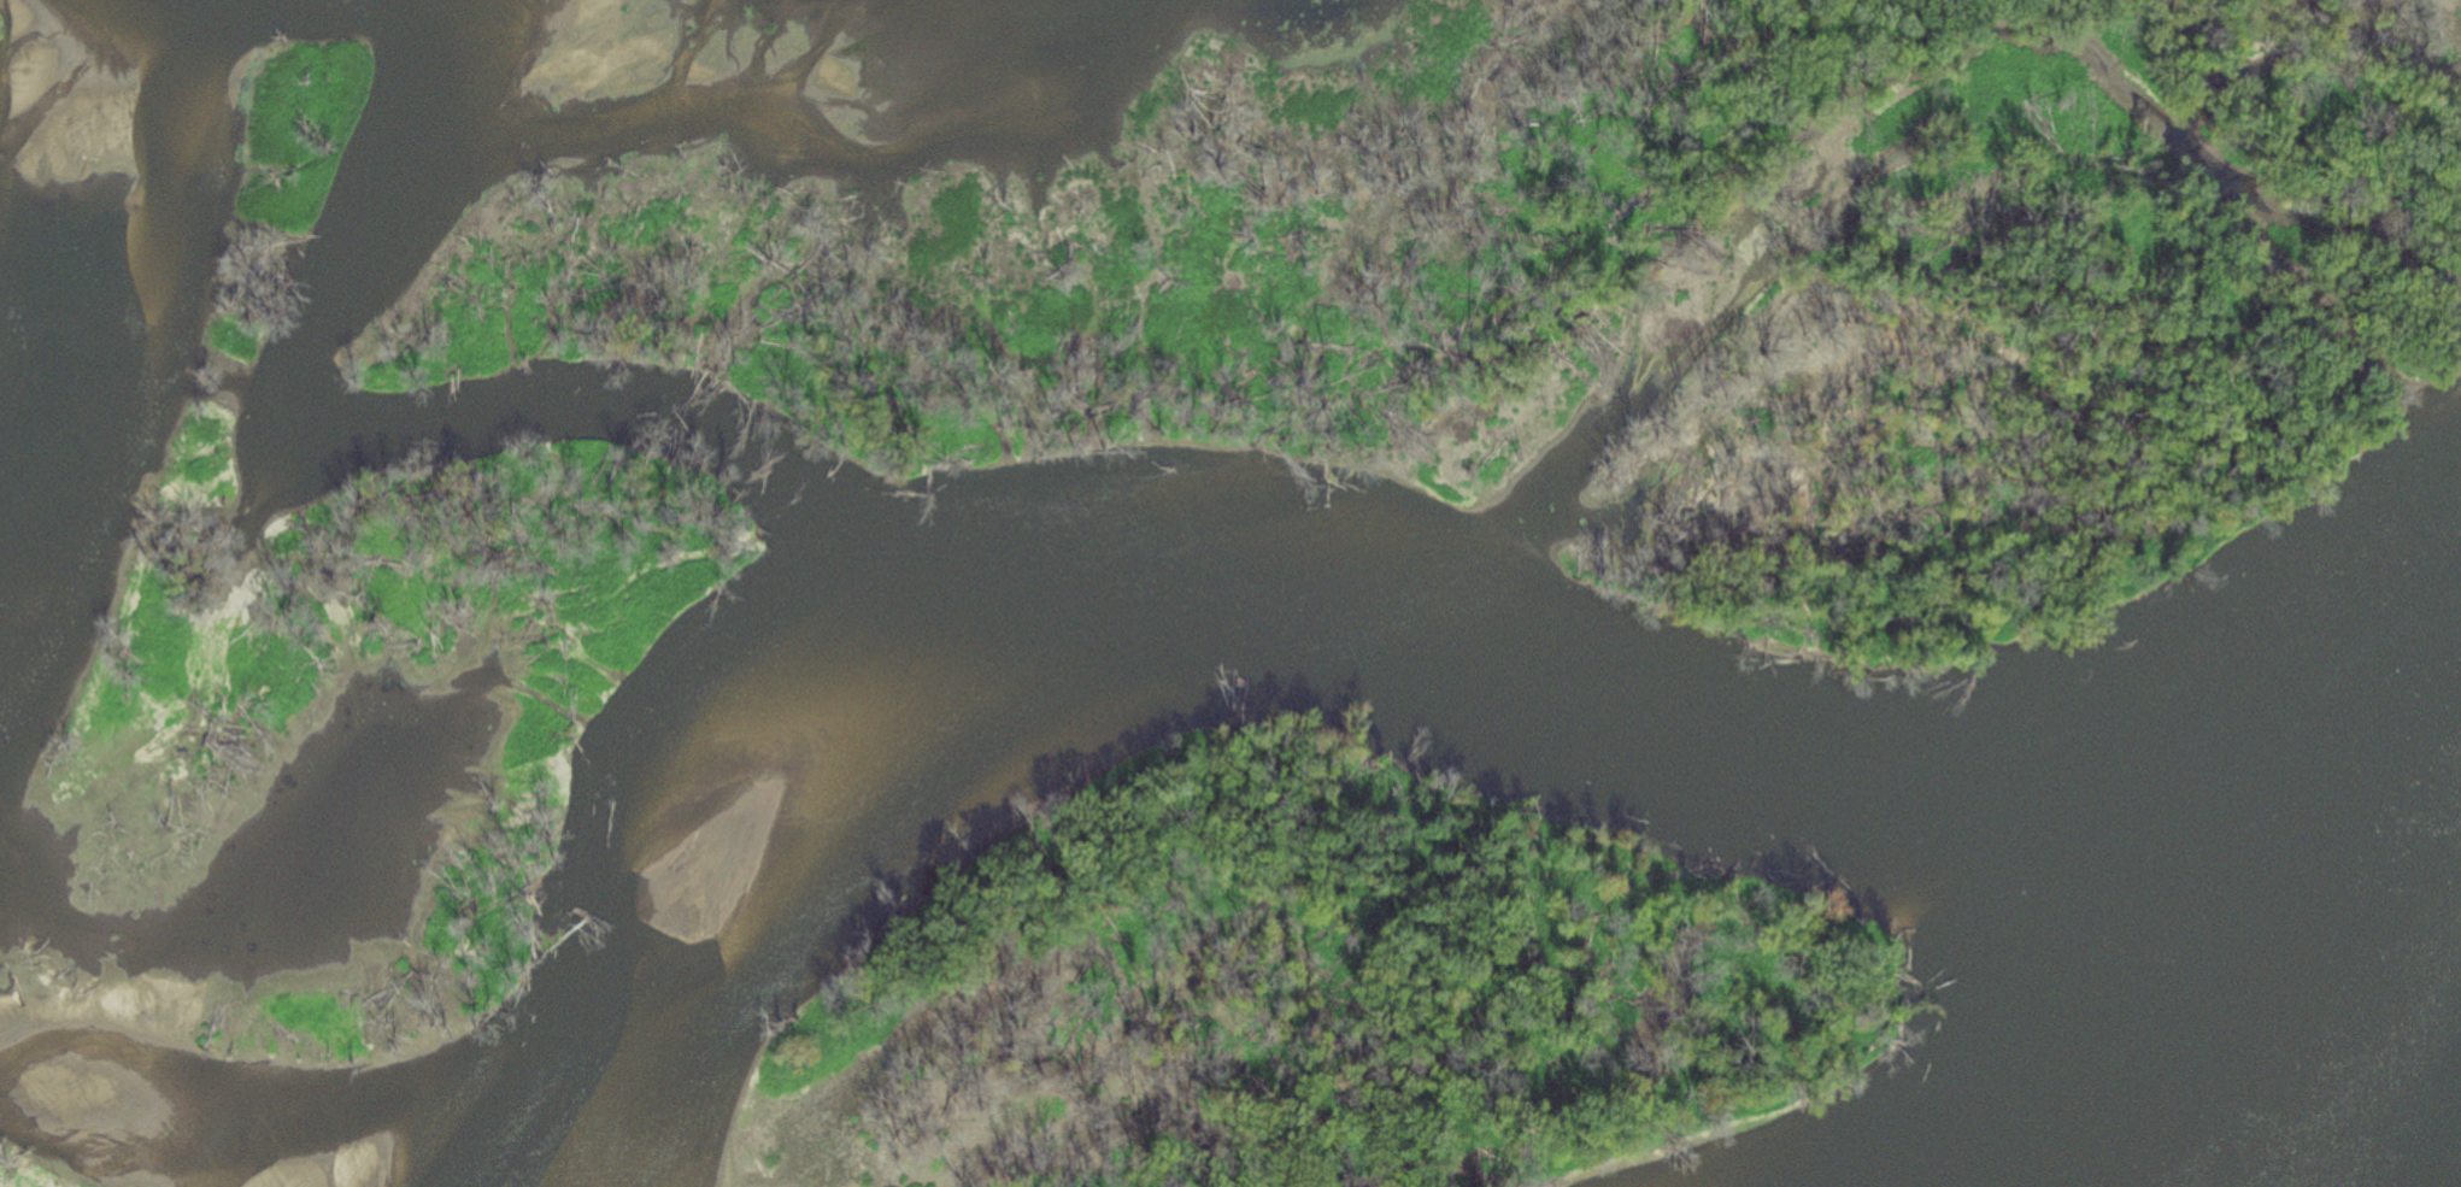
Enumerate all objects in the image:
river: (2283, 1087)

